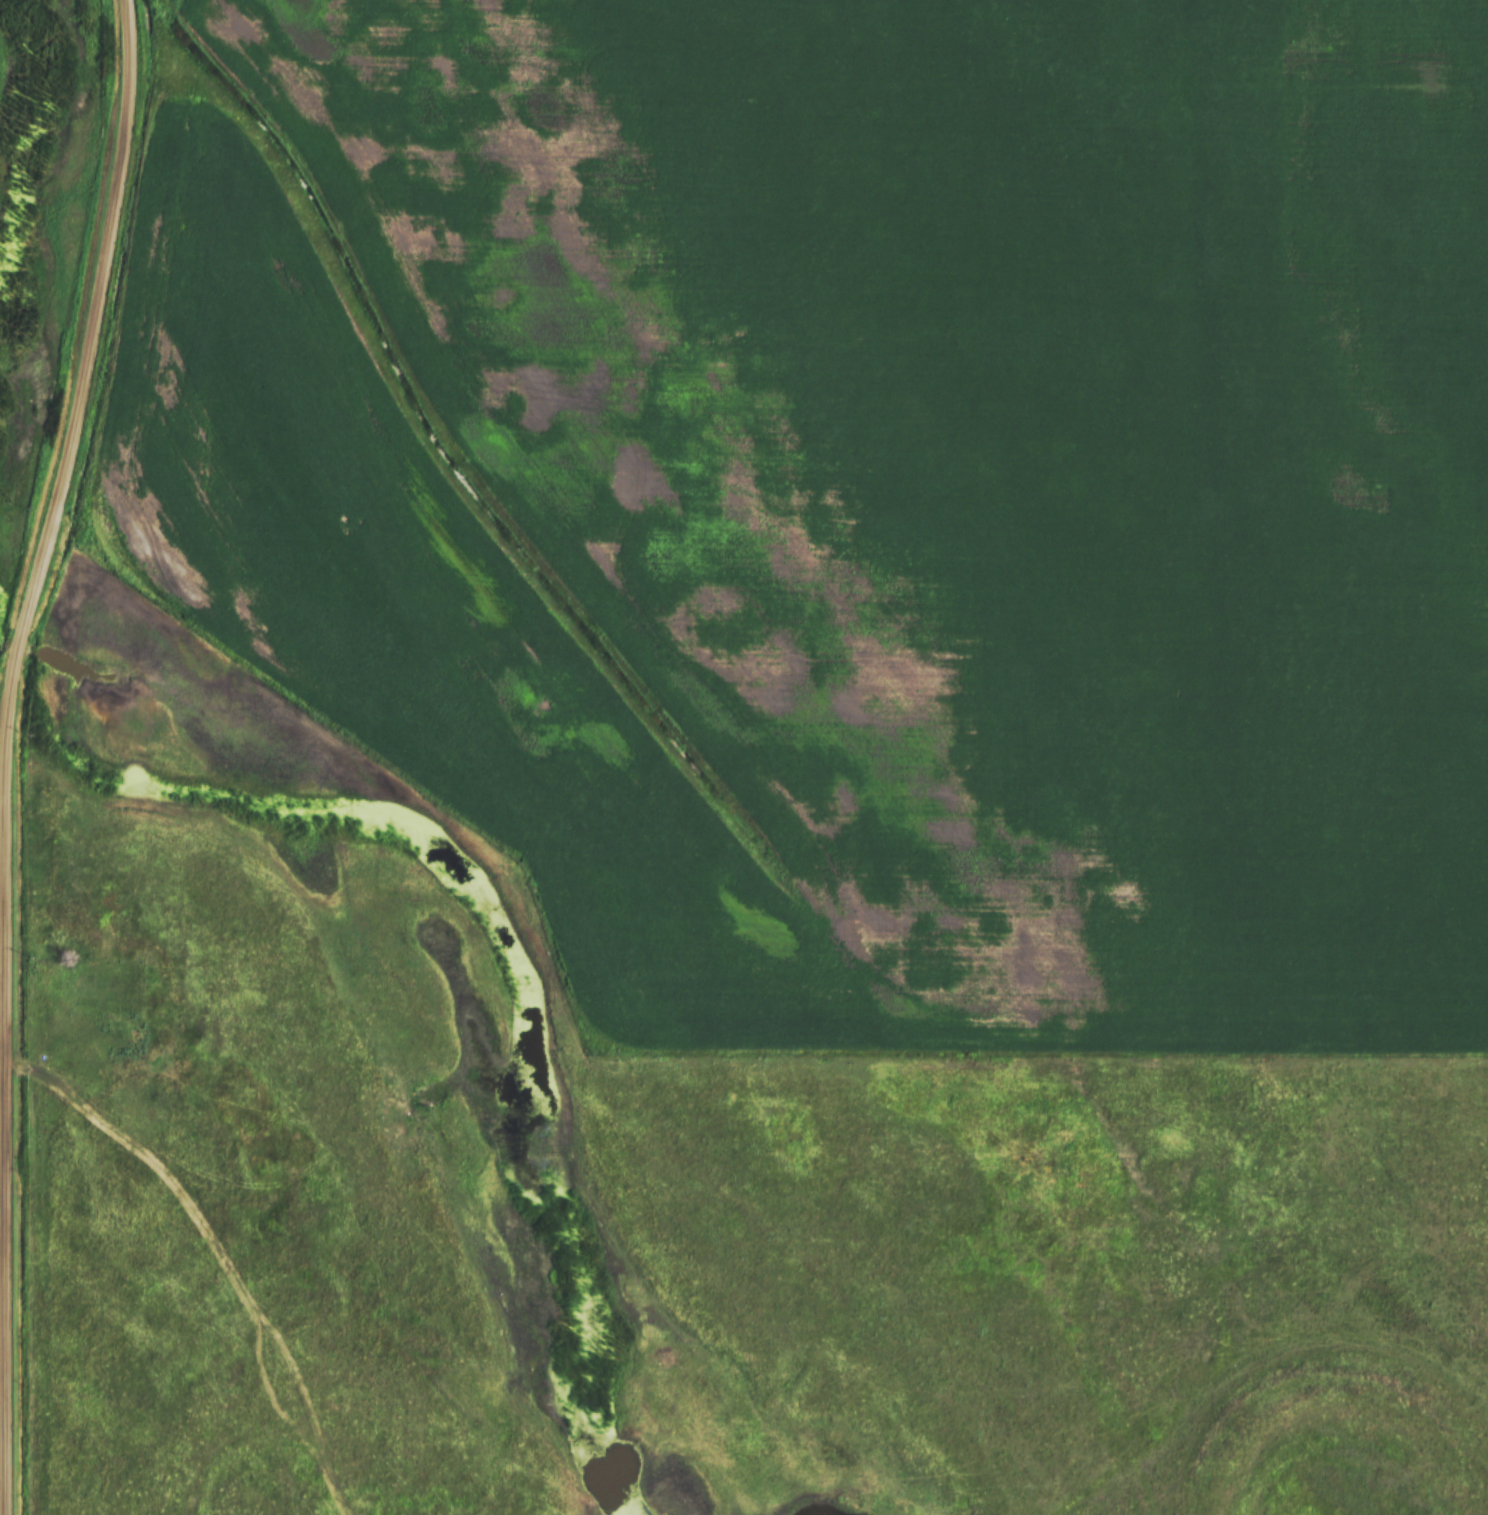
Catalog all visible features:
road: (4, 750)
road: (2, 993)
building: (114, 1131)

